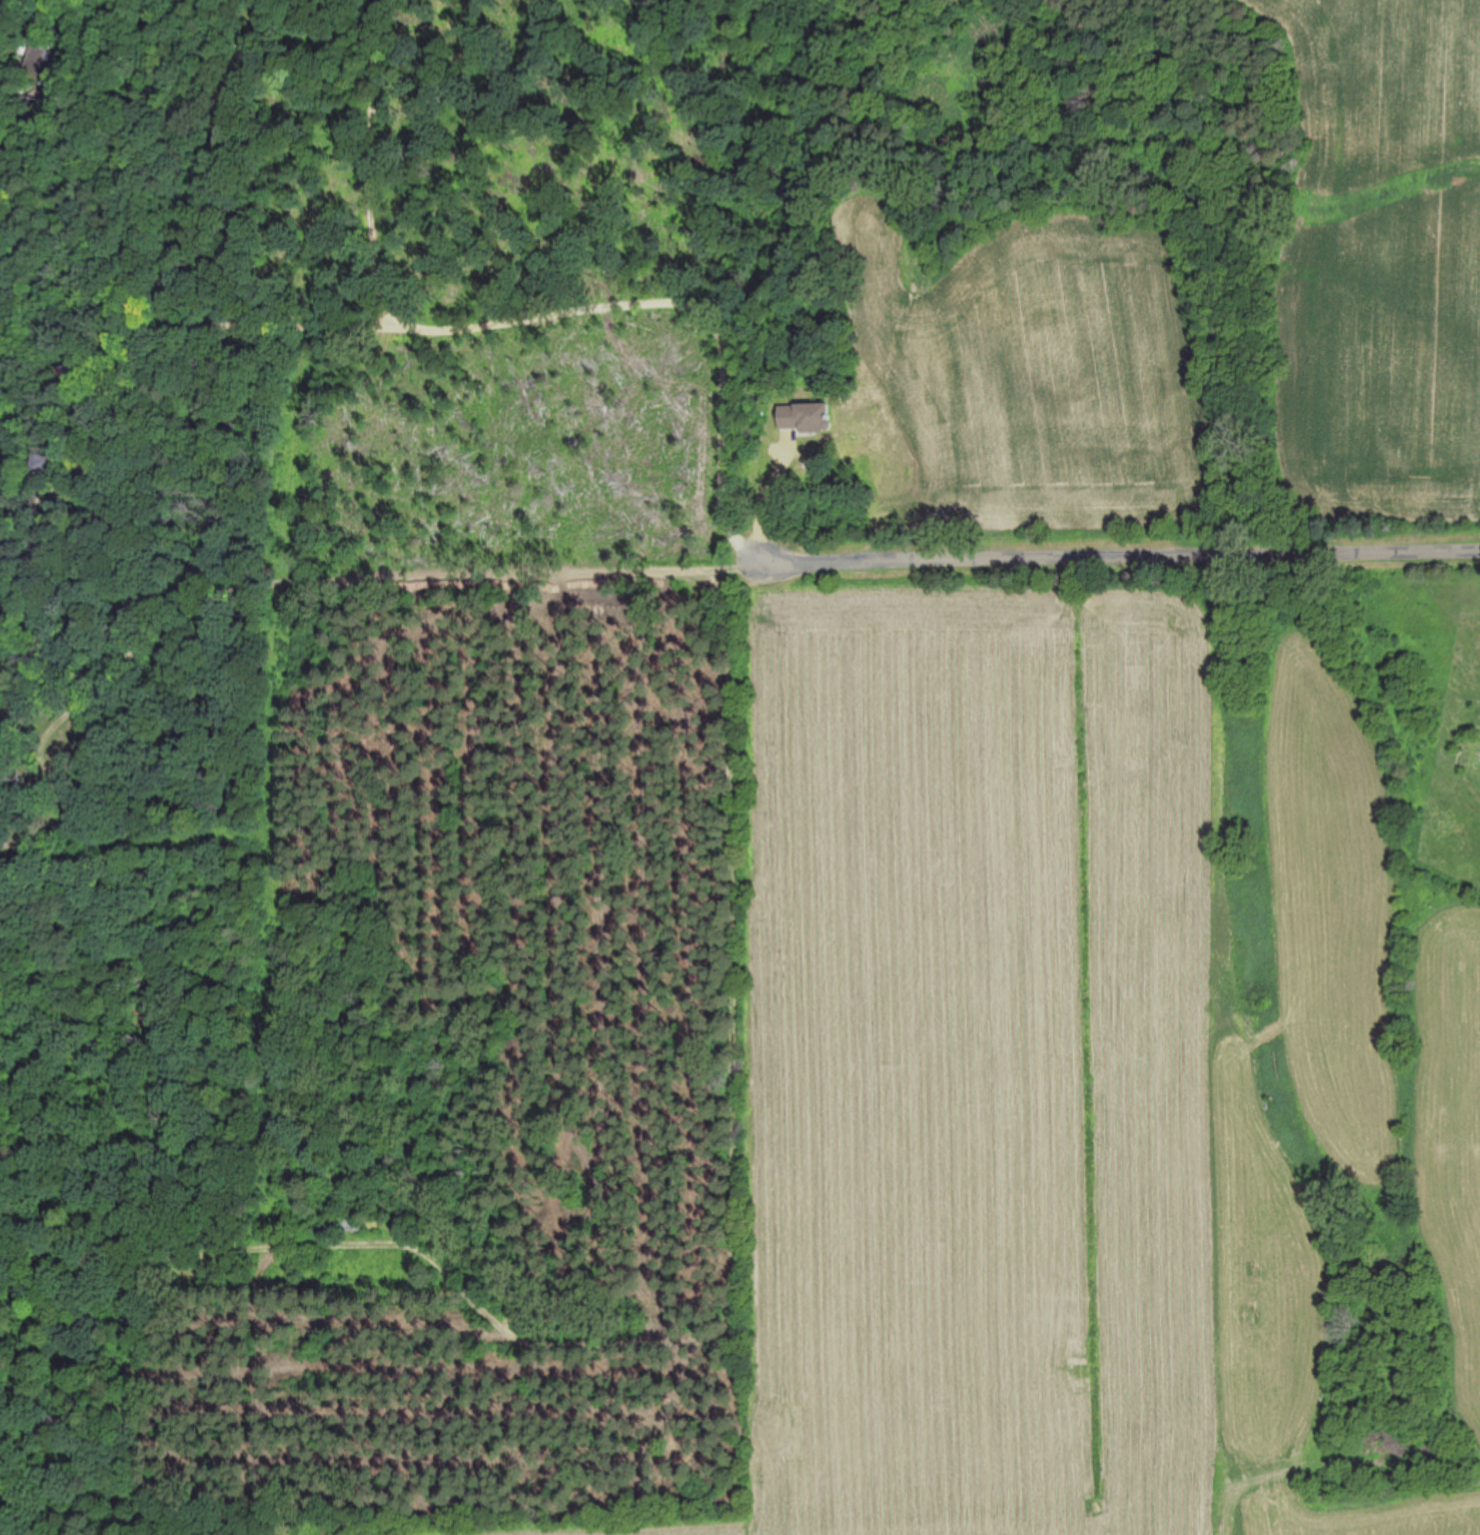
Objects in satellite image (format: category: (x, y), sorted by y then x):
road: (80, 14)
crop: (1382, 271)
road: (525, 320)
road: (260, 322)
crop: (974, 378)
road: (906, 565)
building: (2, 637)
road: (126, 661)
building: (2, 803)
road: (732, 927)
crop: (1113, 1056)

